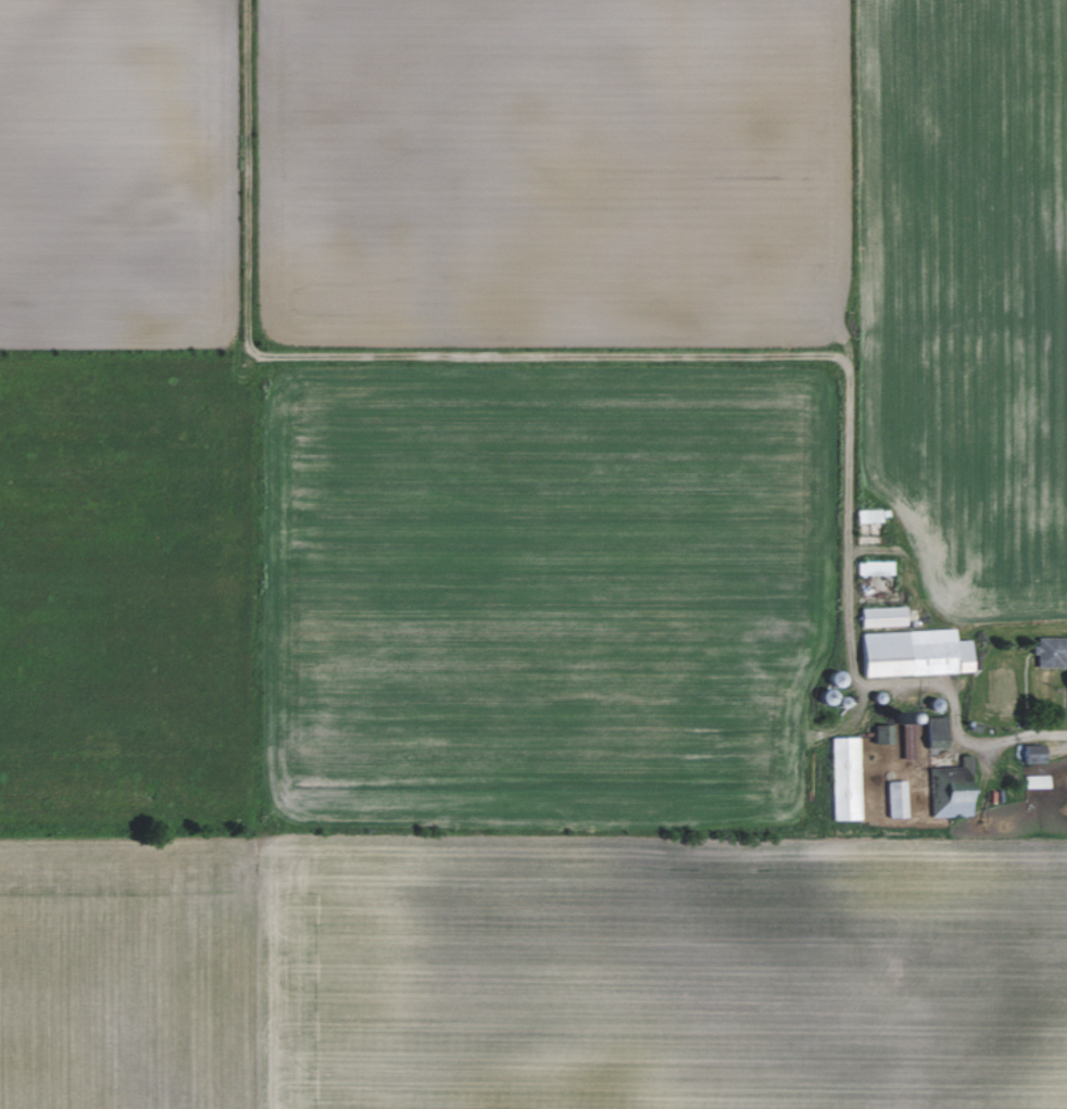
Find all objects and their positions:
building: (874, 567)
building: (879, 616)
building: (1049, 652)
building: (911, 653)
road: (957, 719)
building: (933, 732)
building: (879, 735)
building: (1030, 753)
building: (843, 779)
building: (949, 790)
building: (894, 798)

